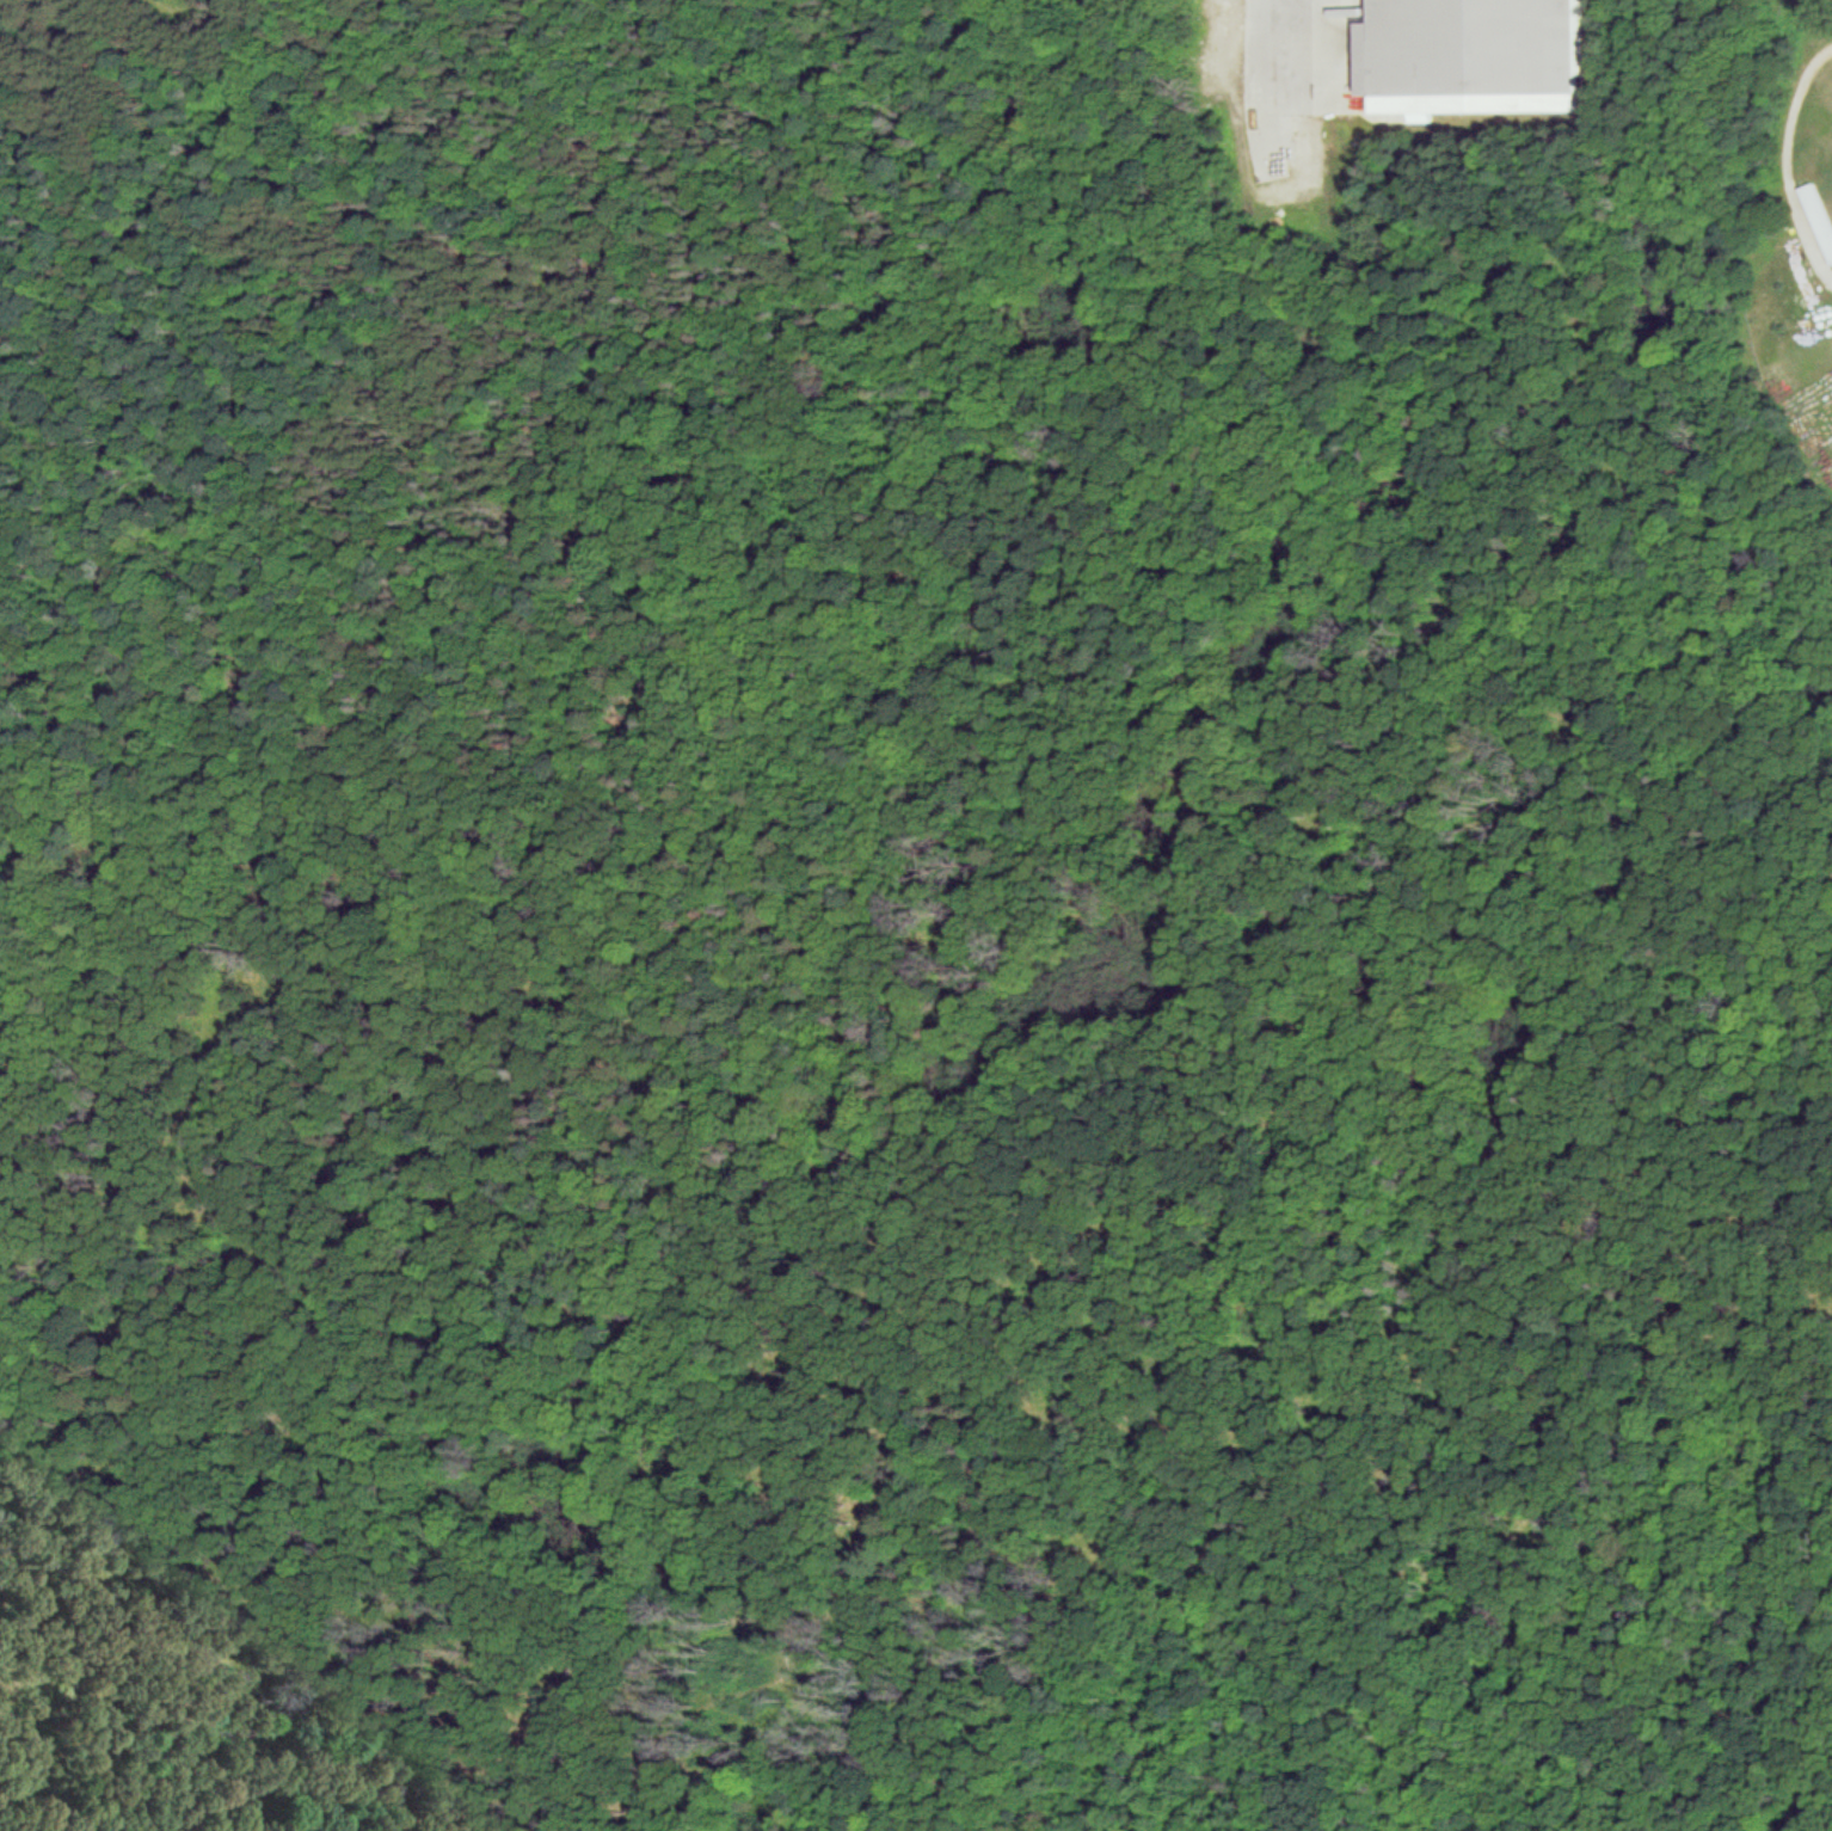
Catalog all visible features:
building: (1477, 53)
road: (1289, 63)
road: (1784, 161)
building: (1821, 211)

